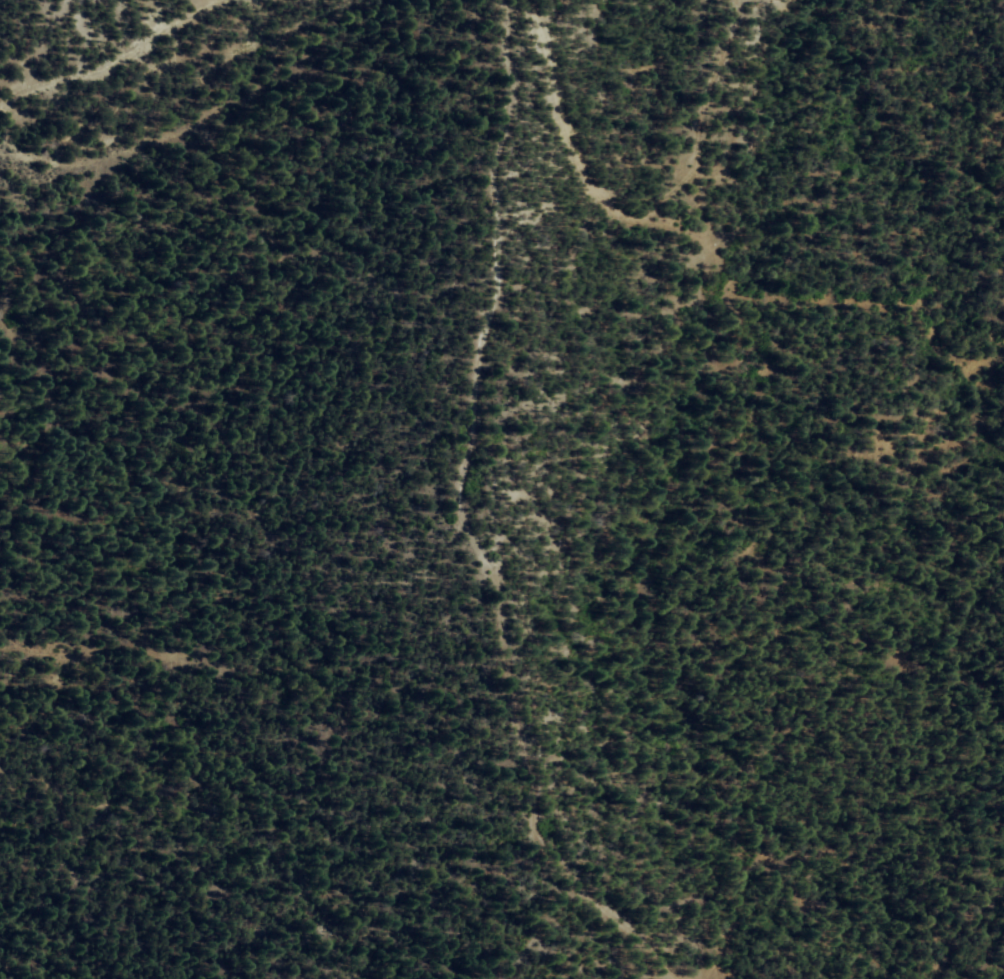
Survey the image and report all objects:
road: (145, 88)
road: (478, 629)
road: (127, 655)

